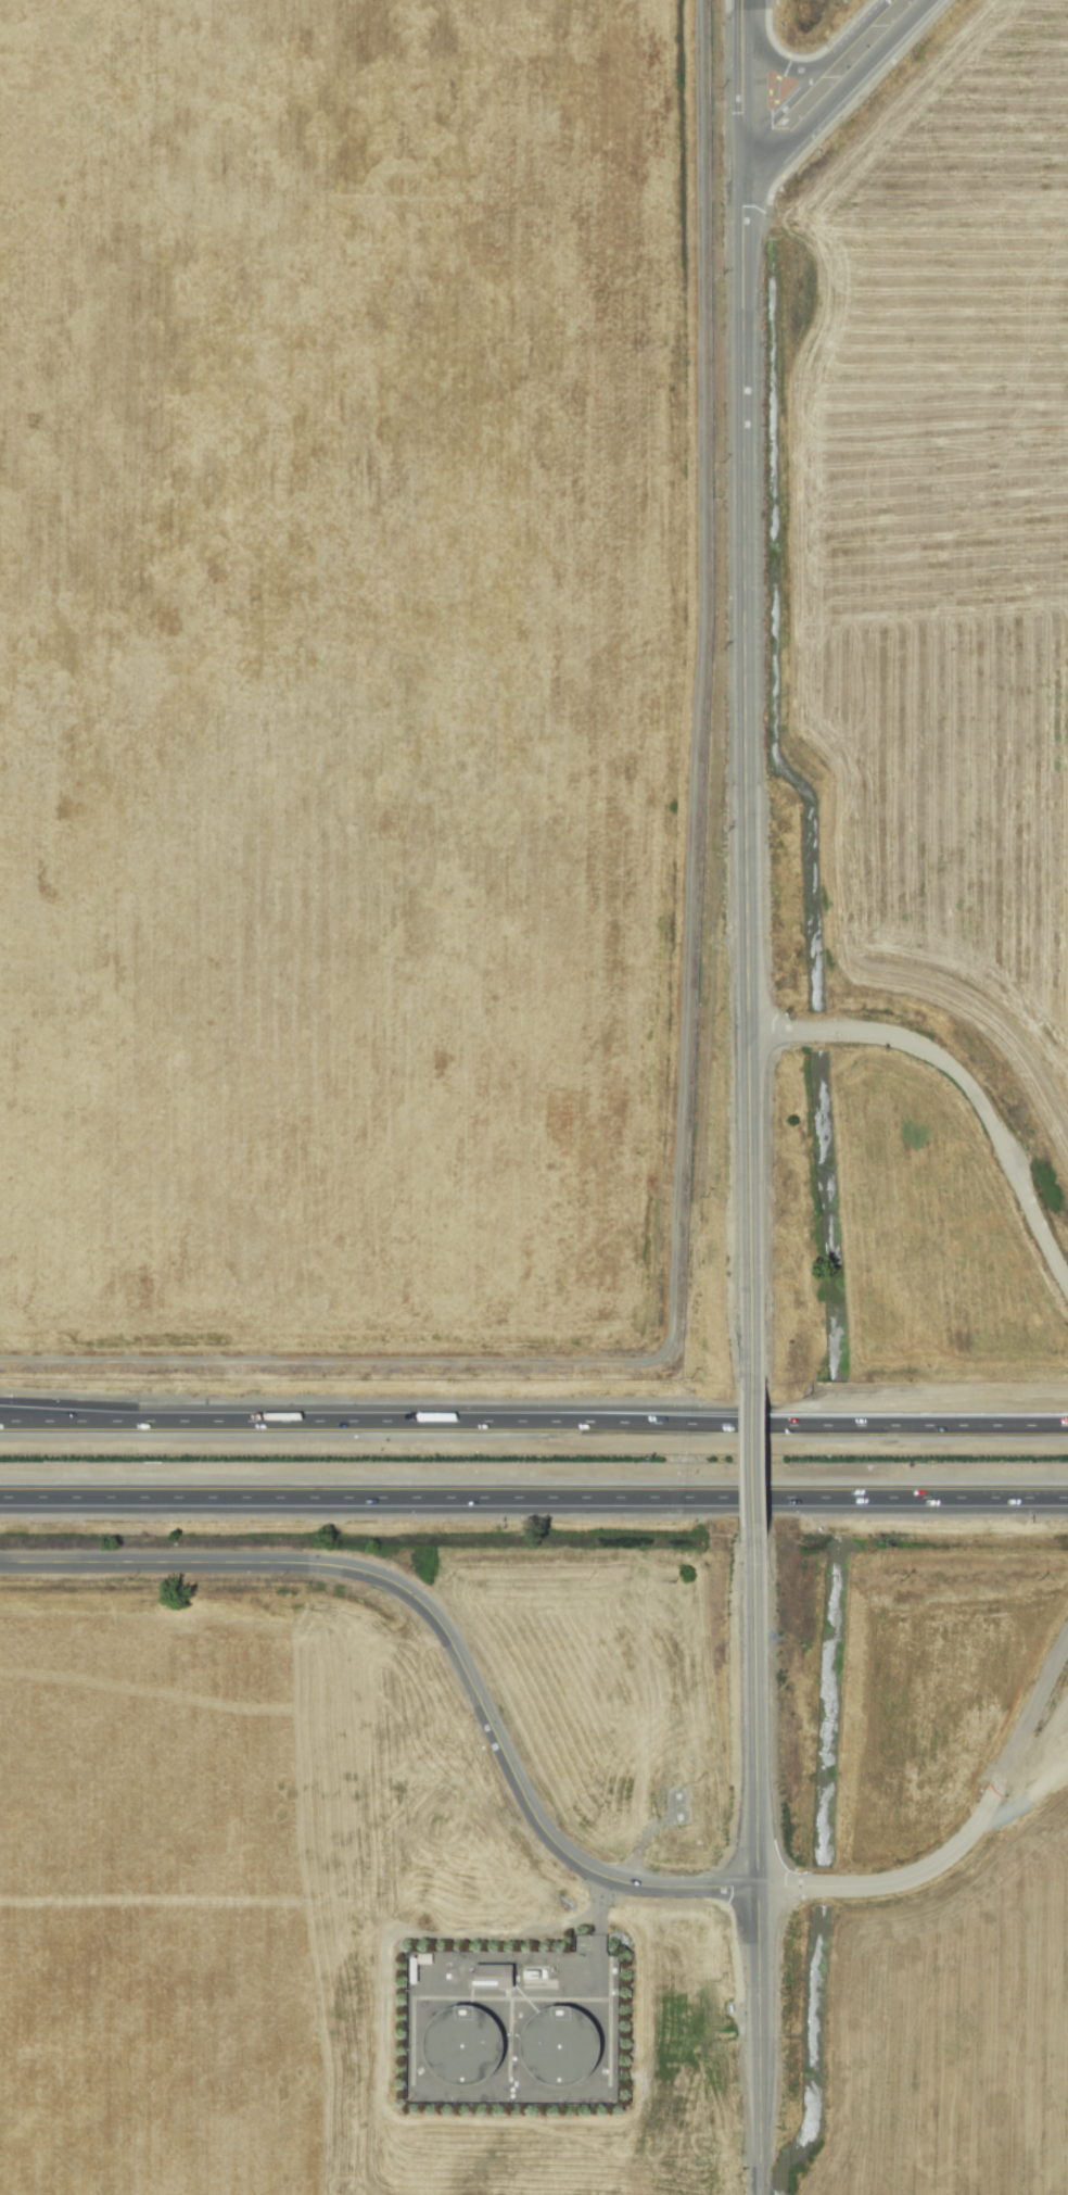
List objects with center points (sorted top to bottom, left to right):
road: (786, 68)
road: (814, 75)
road: (839, 92)
airport: (353, 687)
road: (743, 695)
road: (963, 1077)
road: (533, 1420)
road: (751, 1459)
road: (534, 1498)
road: (441, 1623)
road: (754, 1862)
road: (929, 1870)

